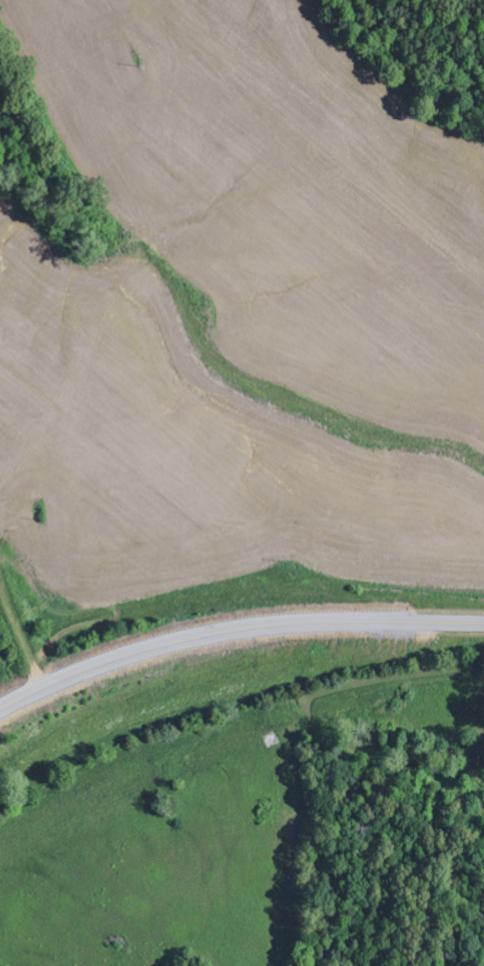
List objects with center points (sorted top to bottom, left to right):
road: (234, 632)

